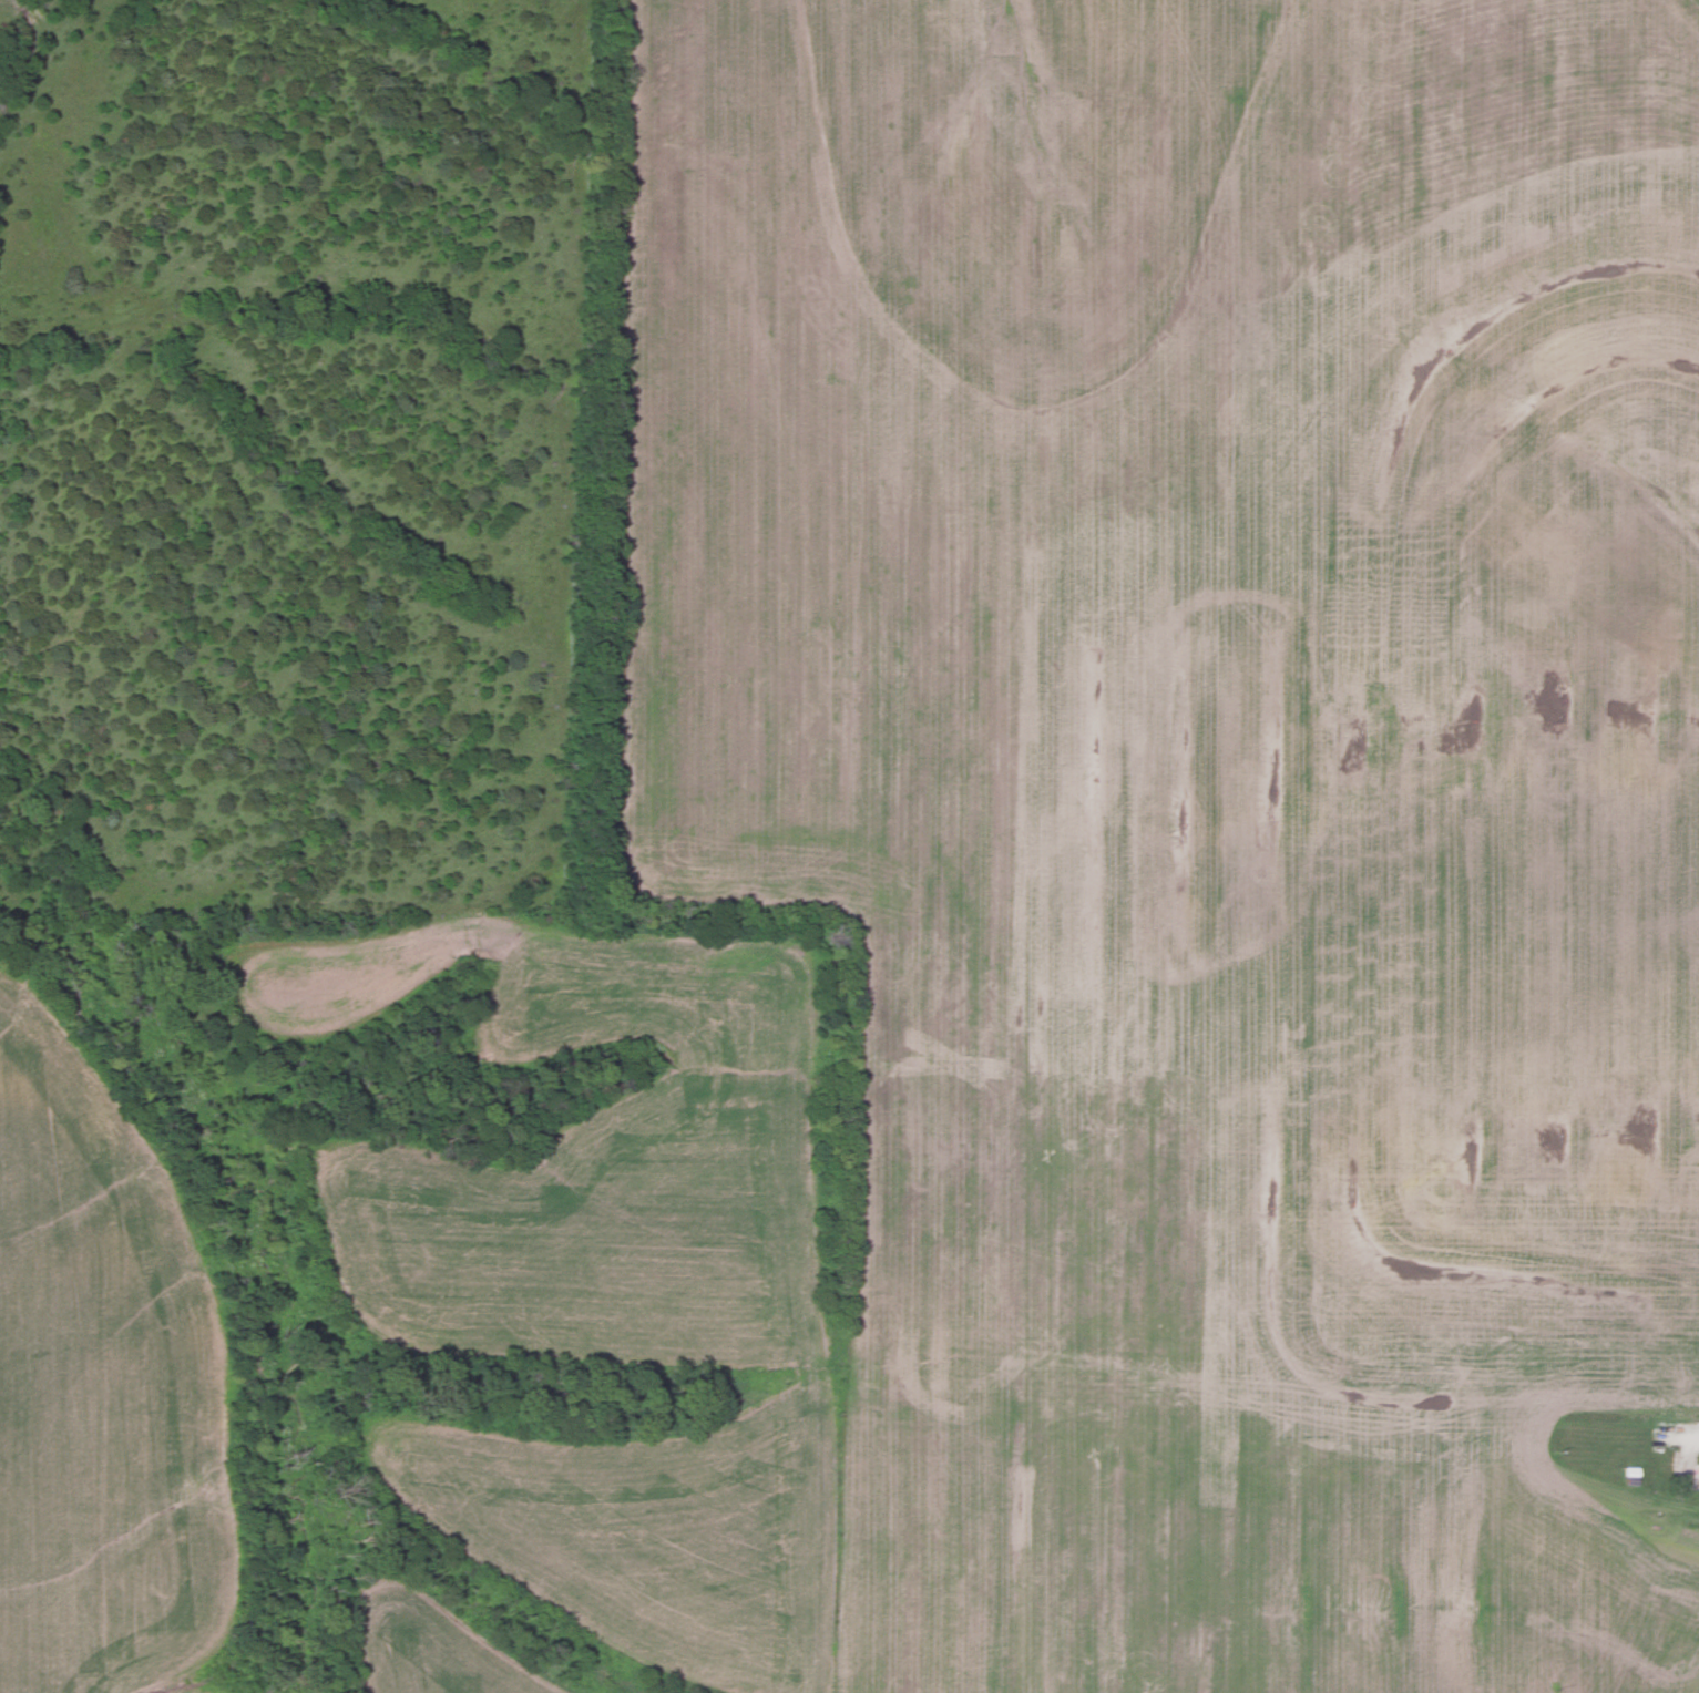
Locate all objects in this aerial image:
road: (1679, 1461)
building: (1697, 1471)

